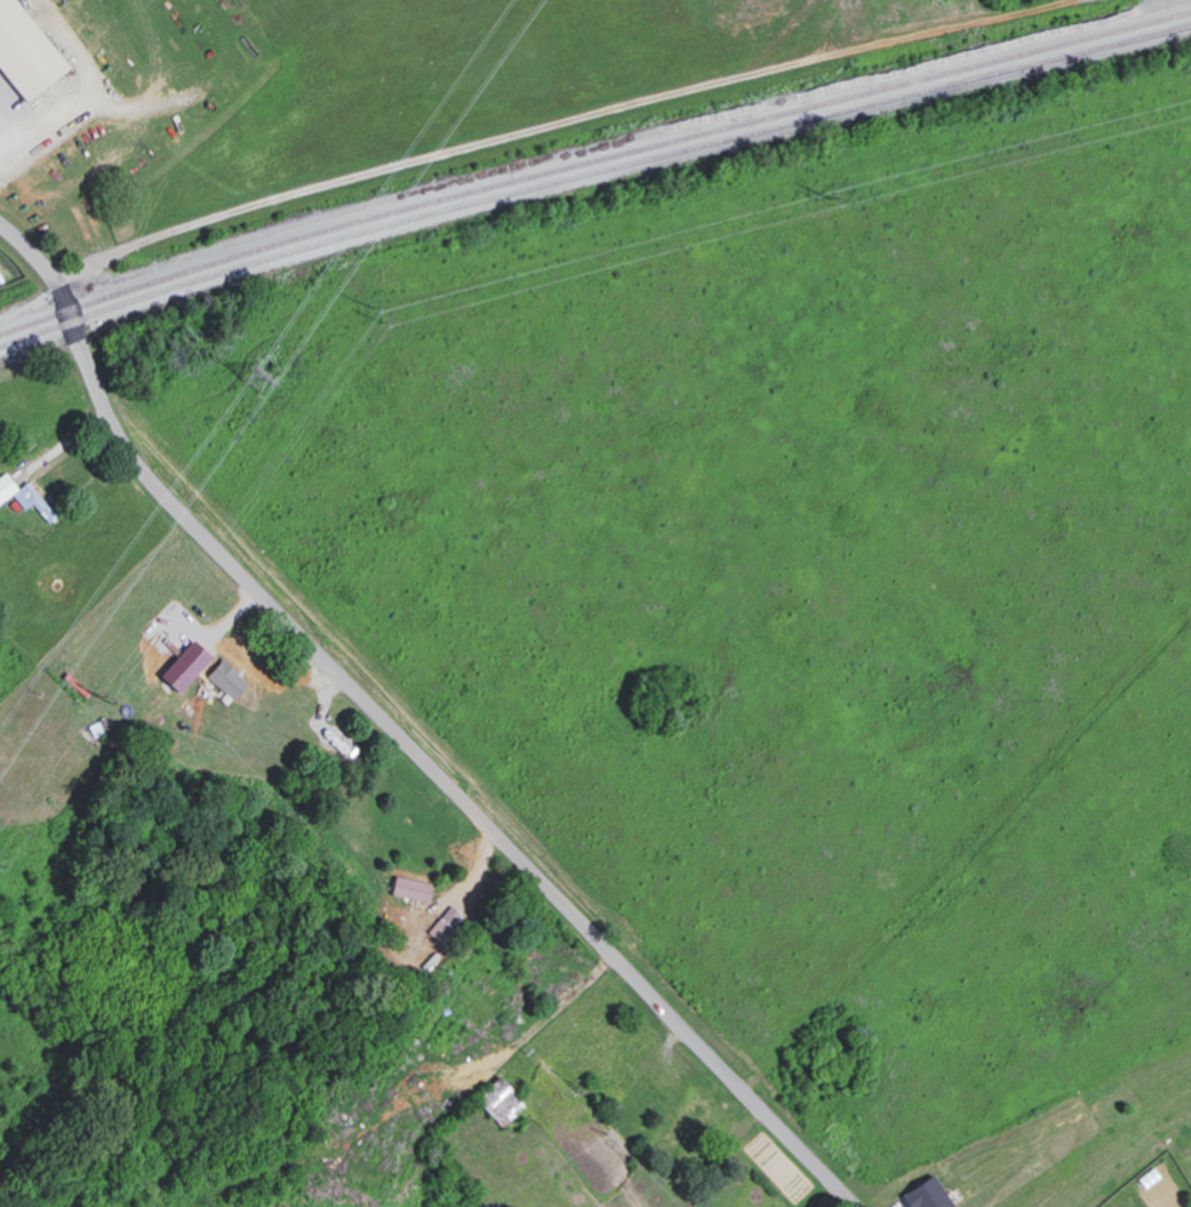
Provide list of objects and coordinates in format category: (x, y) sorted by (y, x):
building: (25, 53)
road: (11, 125)
road: (42, 127)
railway: (591, 160)
railway: (591, 173)
power tower: (256, 377)
building: (27, 496)
building: (234, 679)
road: (399, 731)
building: (418, 889)
building: (451, 926)
building: (508, 1101)
crop: (1064, 1144)
building: (1155, 1179)
building: (936, 1195)

